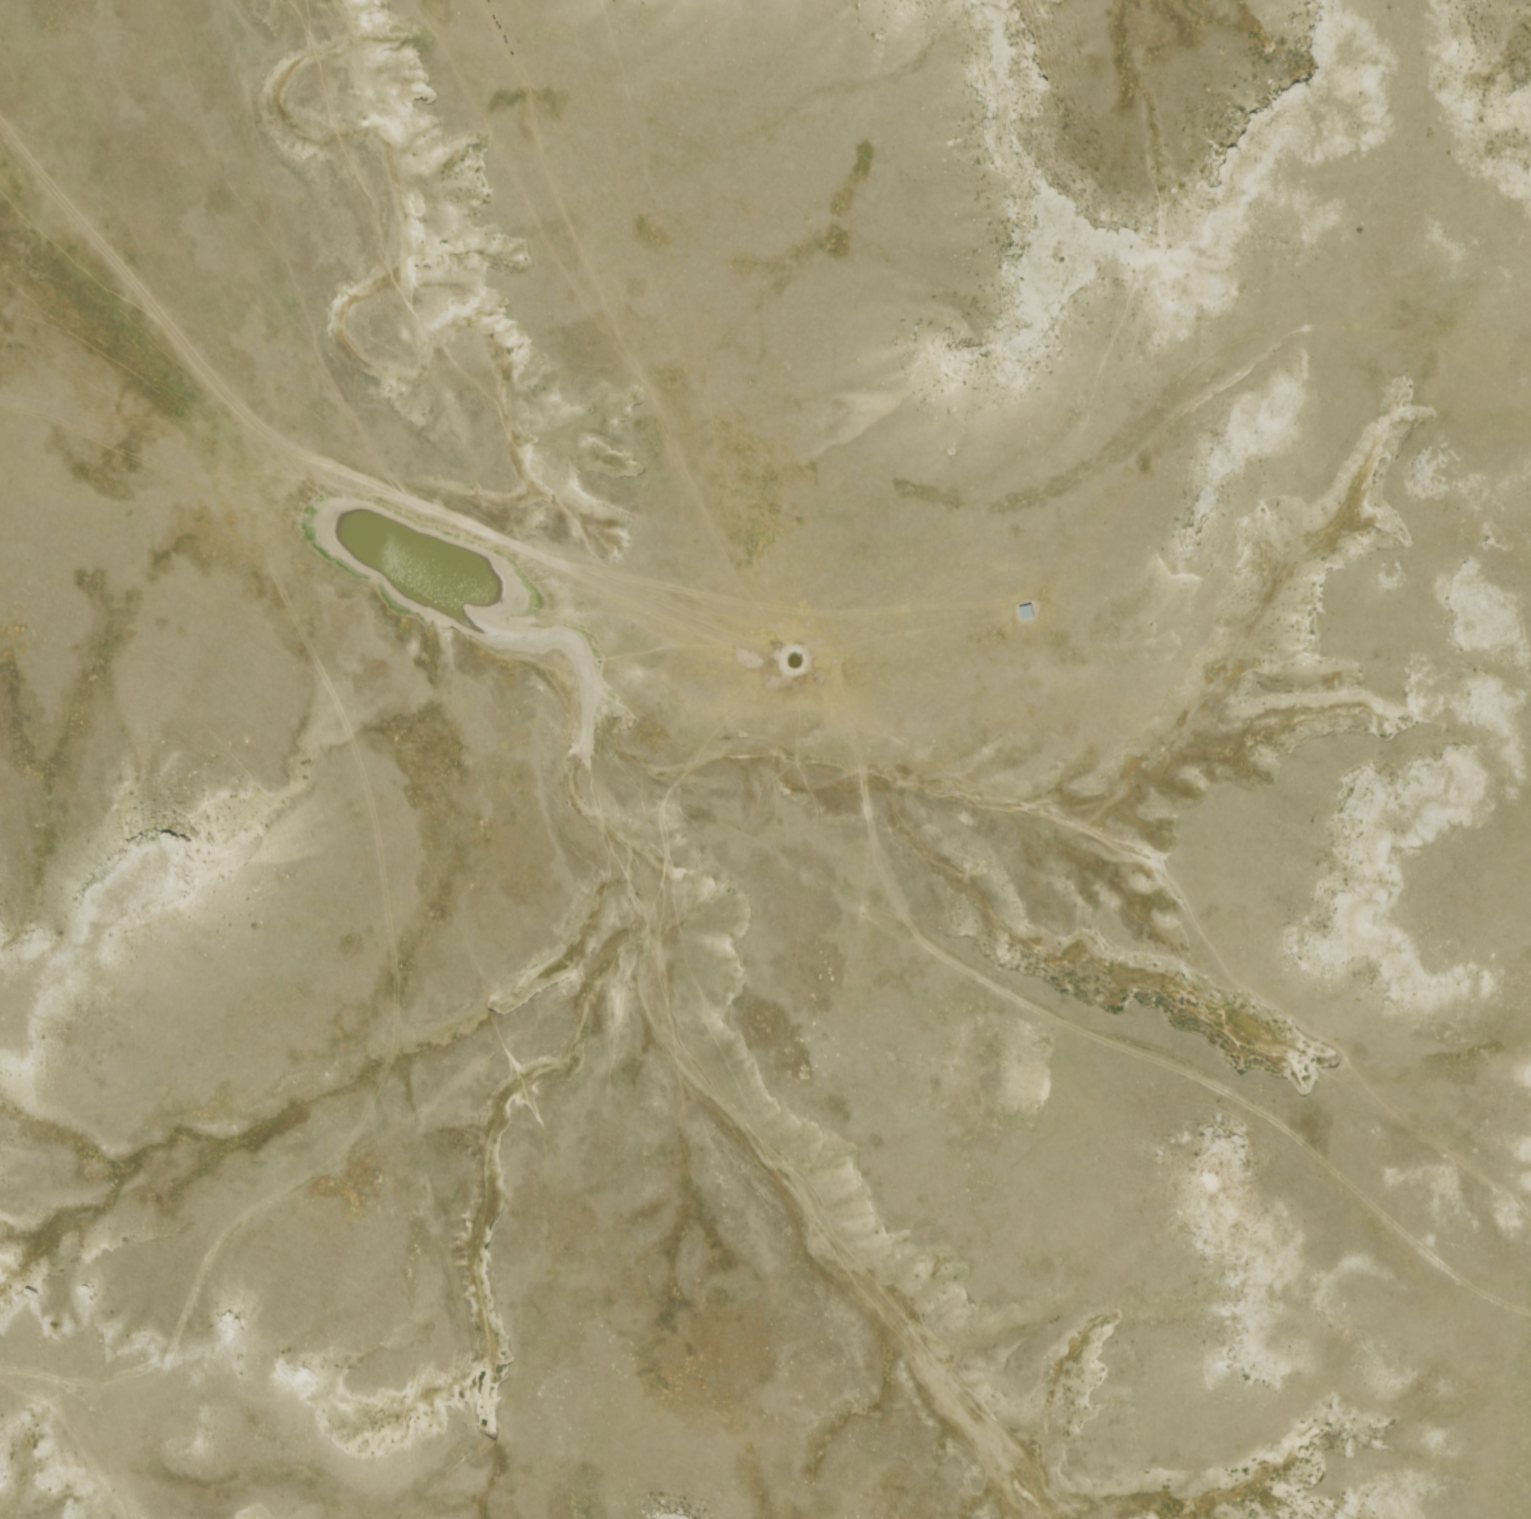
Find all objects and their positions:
building: (1026, 611)

